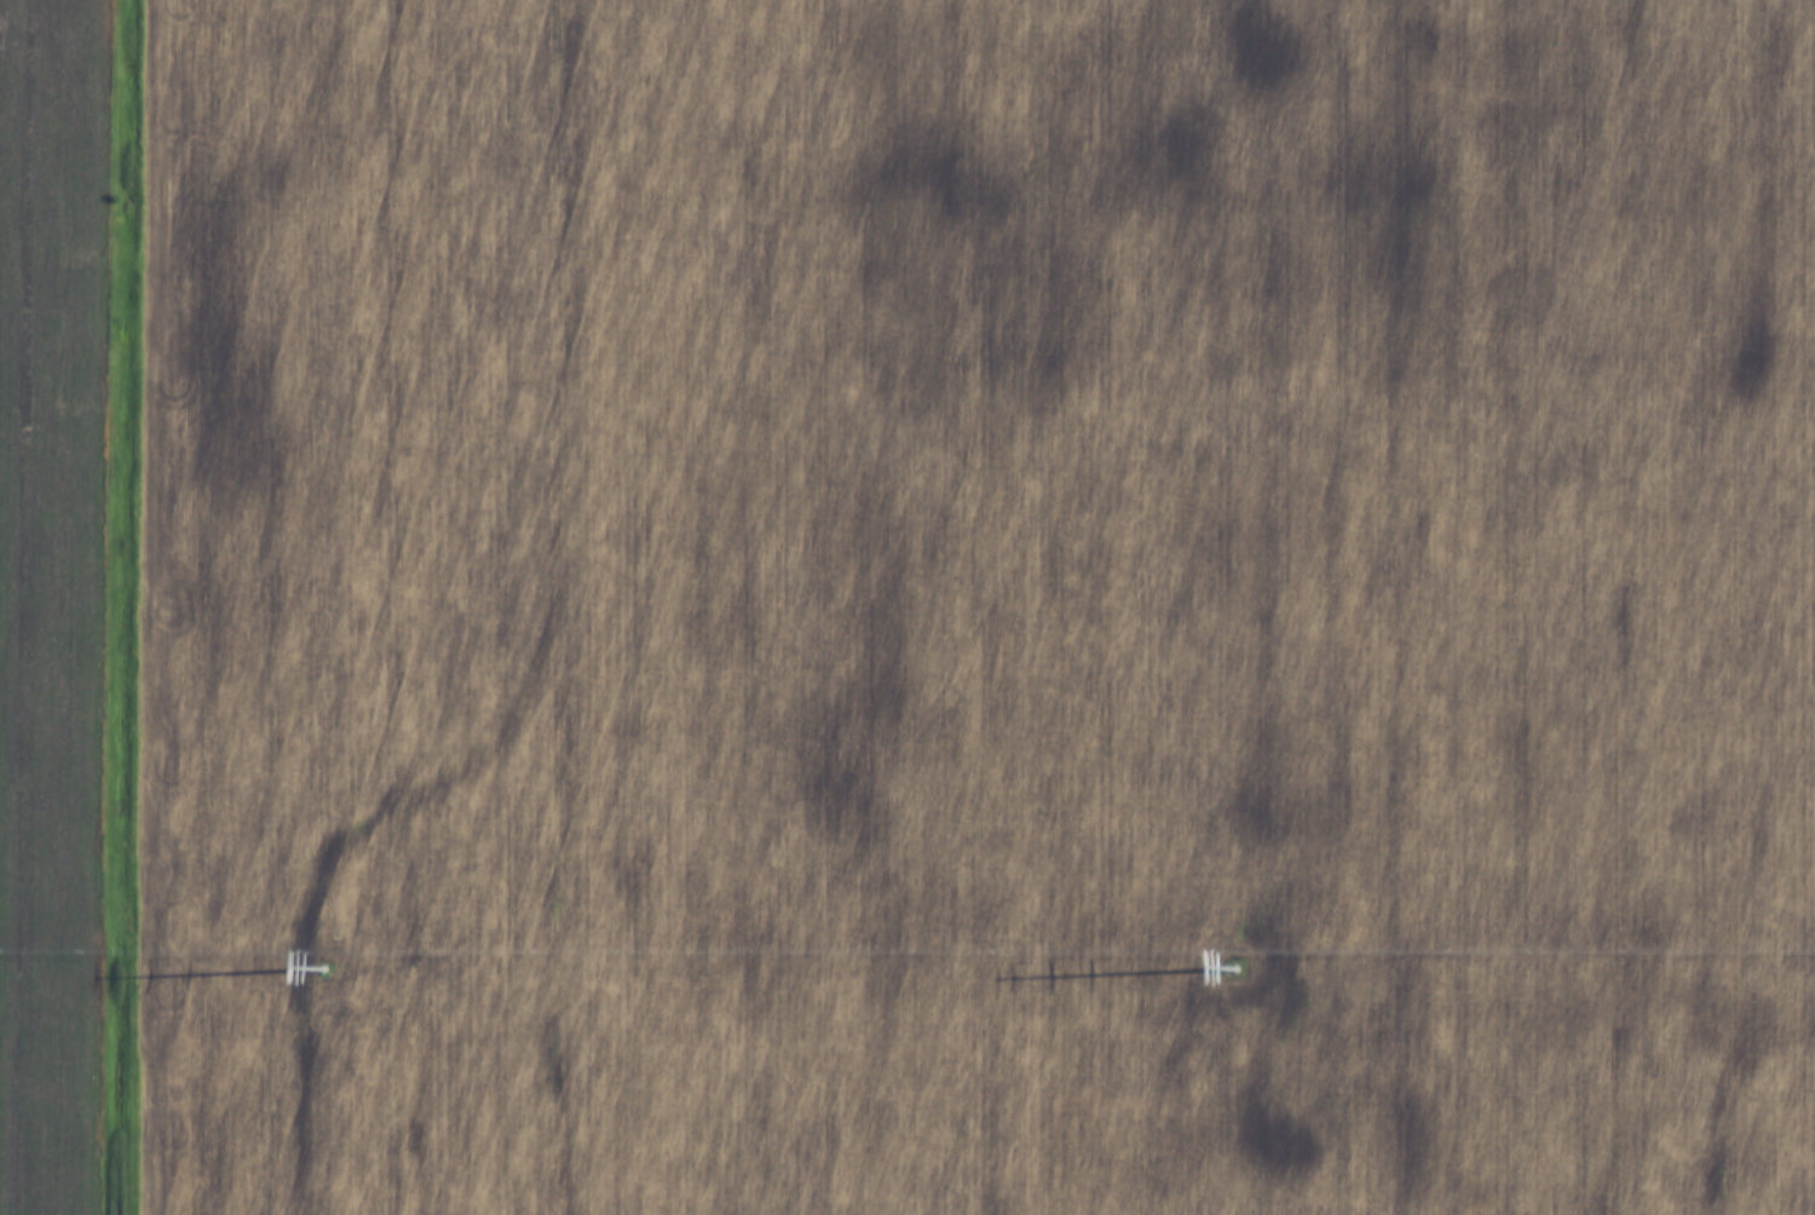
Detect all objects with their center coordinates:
power tower: (323, 968)
power tower: (1234, 968)

